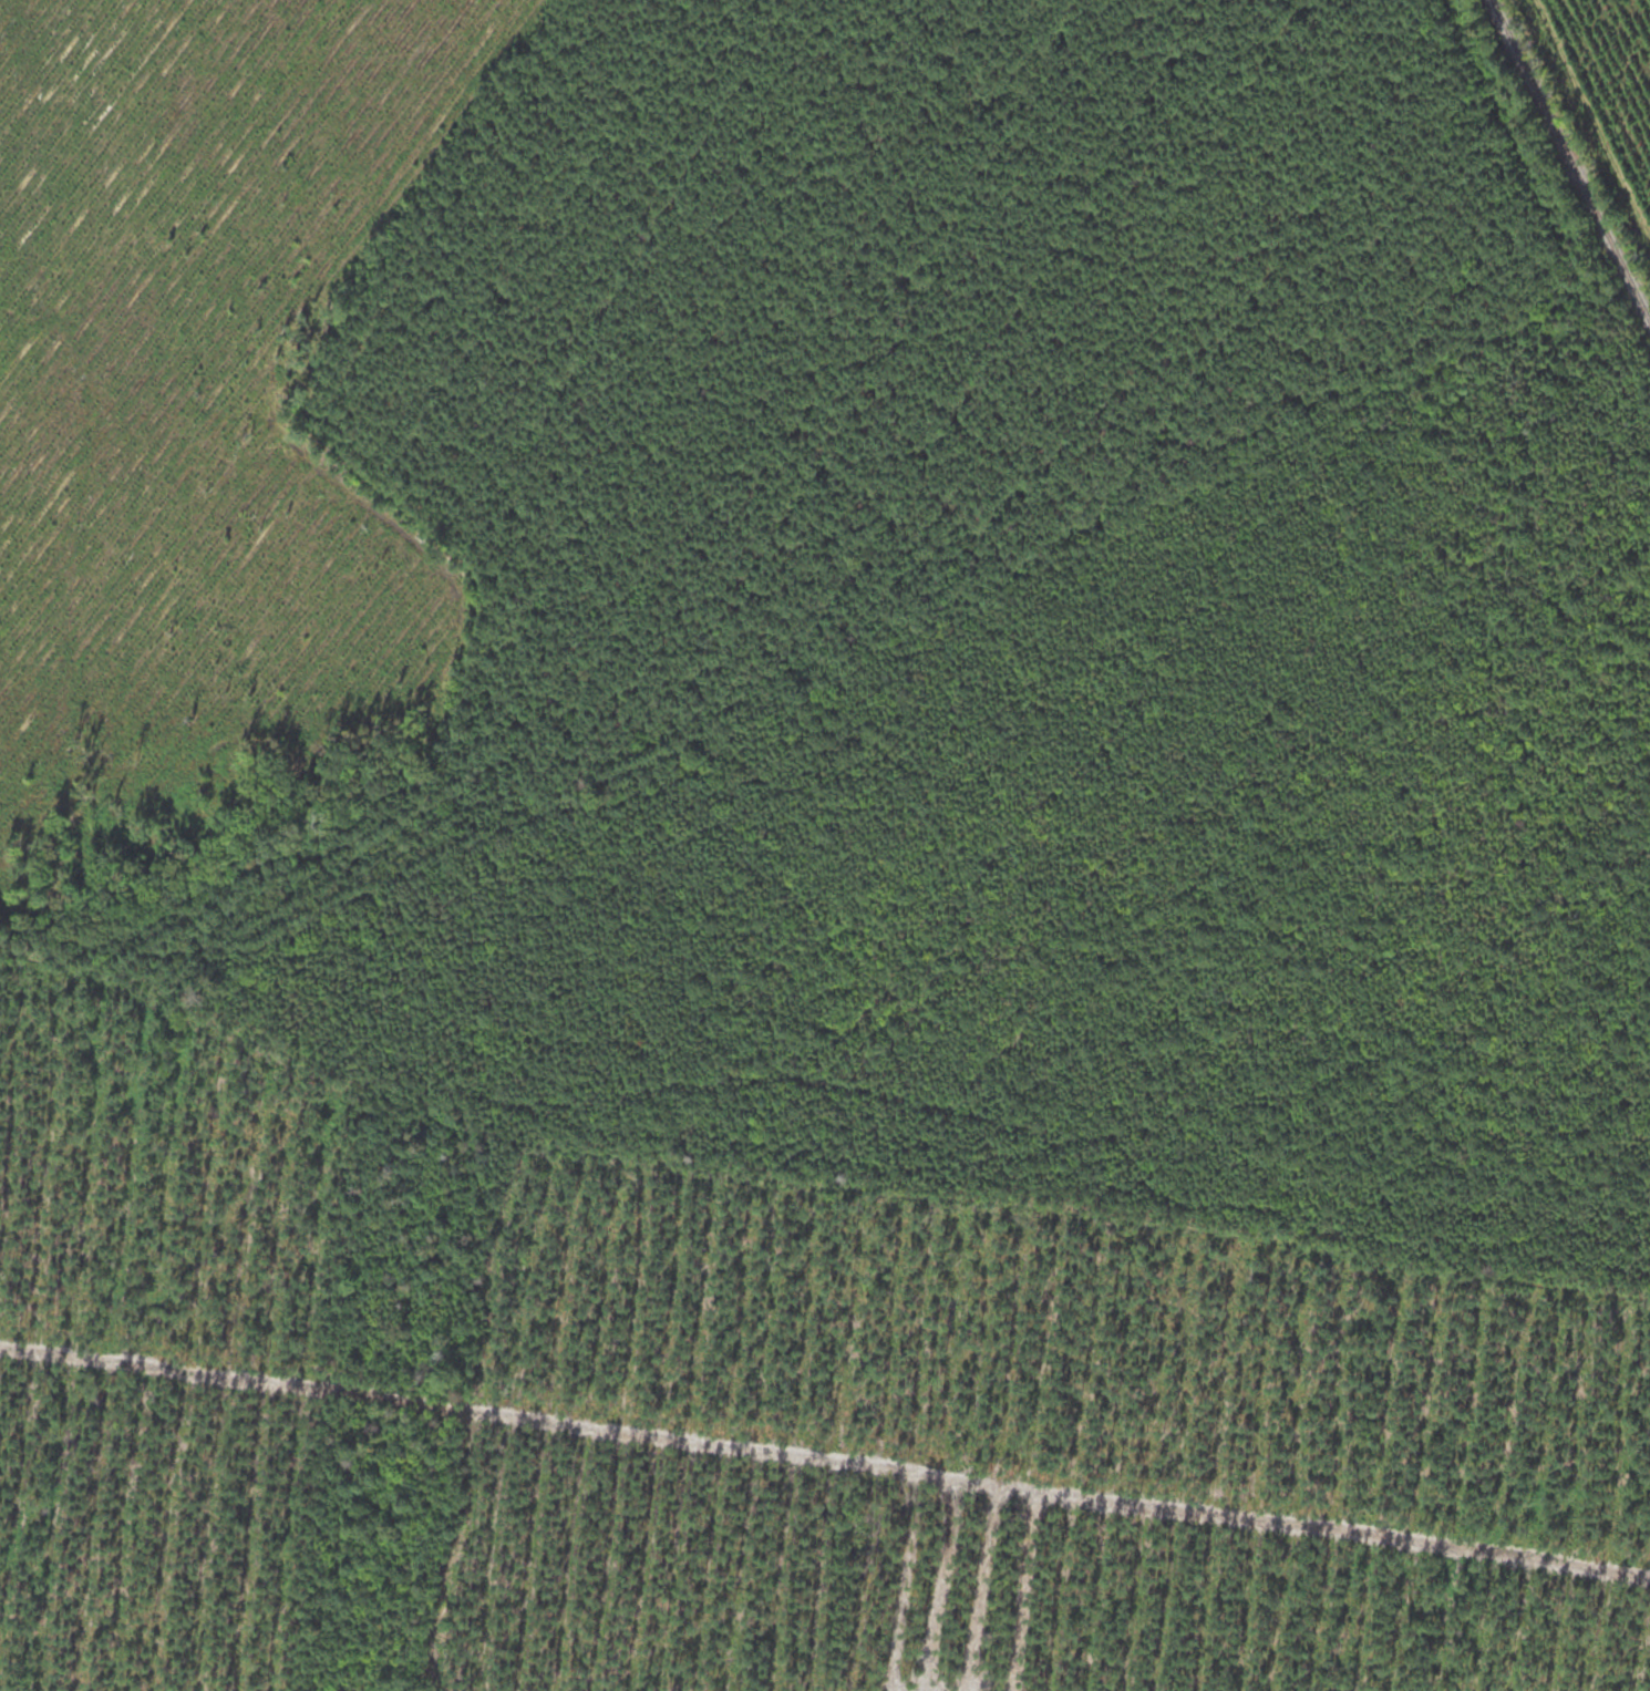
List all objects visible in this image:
railway: (1574, 156)

